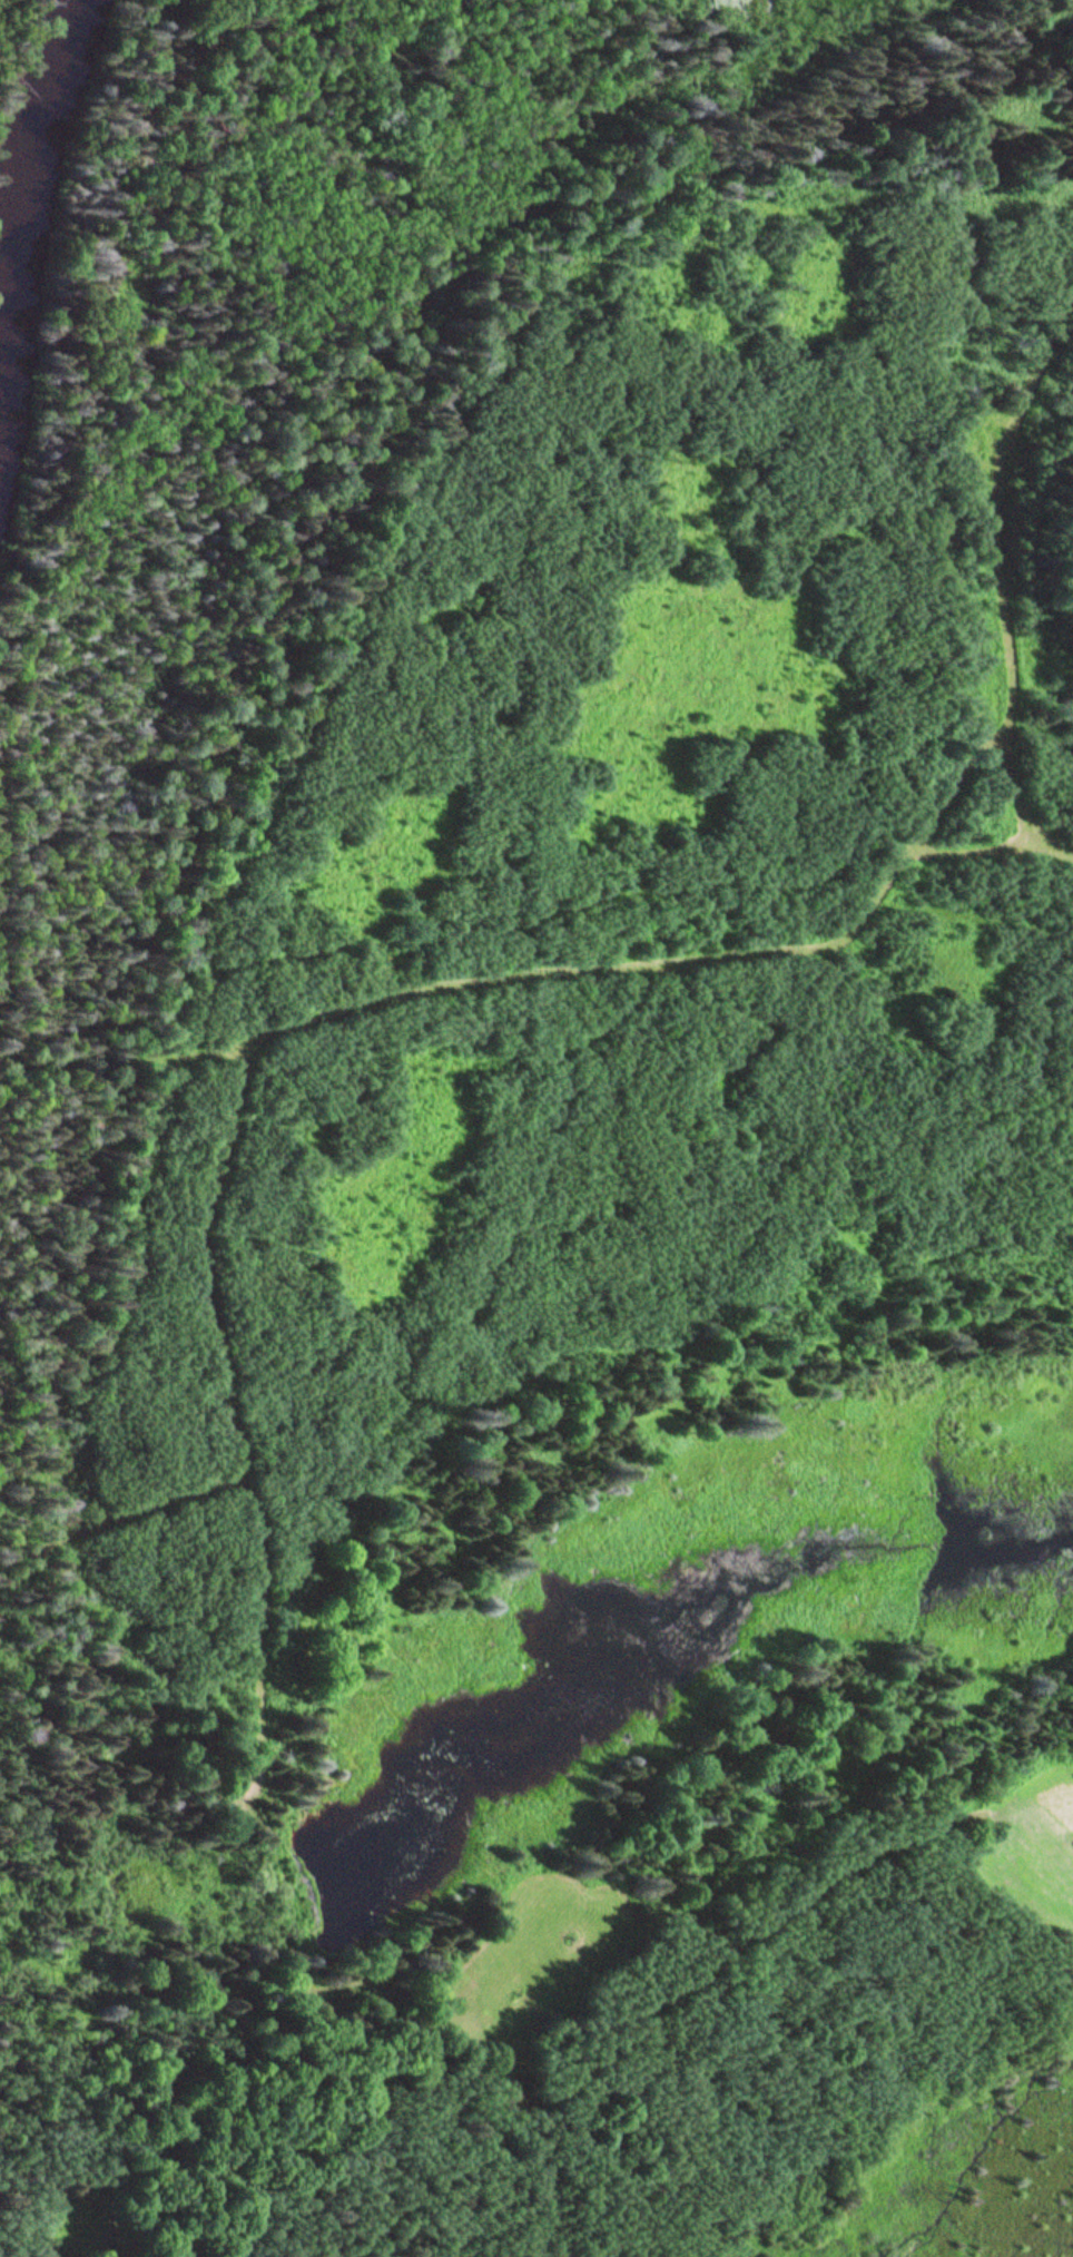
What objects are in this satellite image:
river: (14, 265)

